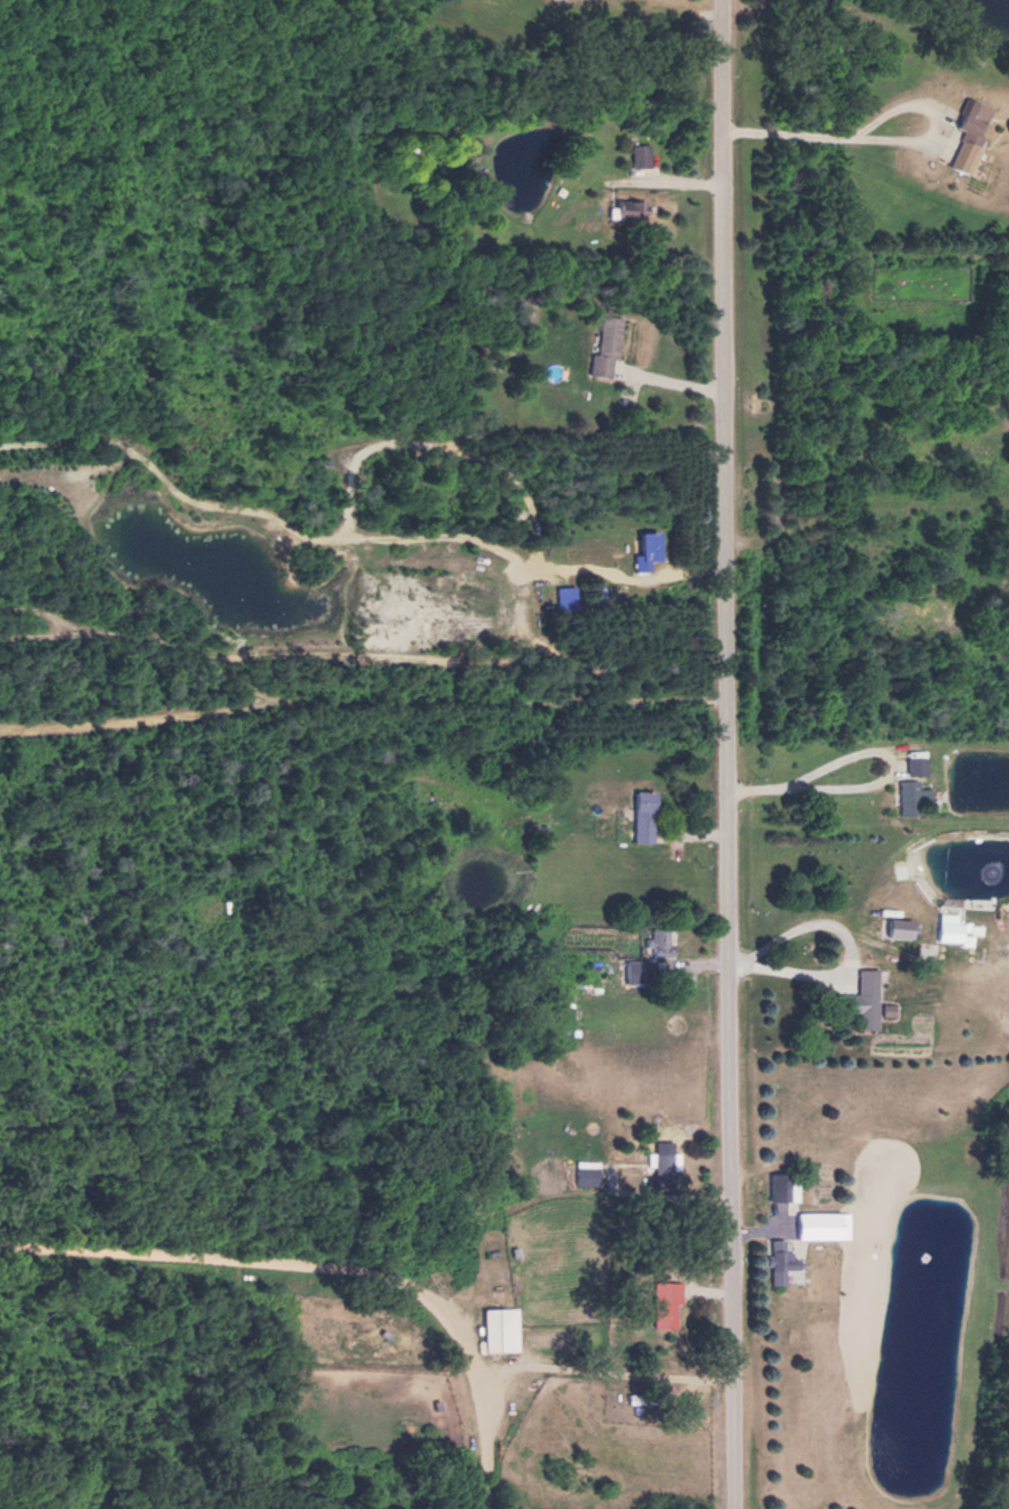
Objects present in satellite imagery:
road: (681, 15)
building: (962, 133)
building: (642, 153)
building: (631, 207)
building: (599, 348)
building: (640, 549)
building: (561, 597)
road: (728, 754)
building: (911, 764)
road: (873, 784)
building: (907, 796)
building: (637, 815)
building: (894, 927)
building: (951, 929)
building: (857, 998)
building: (881, 1008)
building: (657, 1168)
building: (584, 1175)
building: (751, 1189)
building: (814, 1225)
road: (409, 1264)
building: (775, 1264)
building: (661, 1309)
building: (501, 1329)

